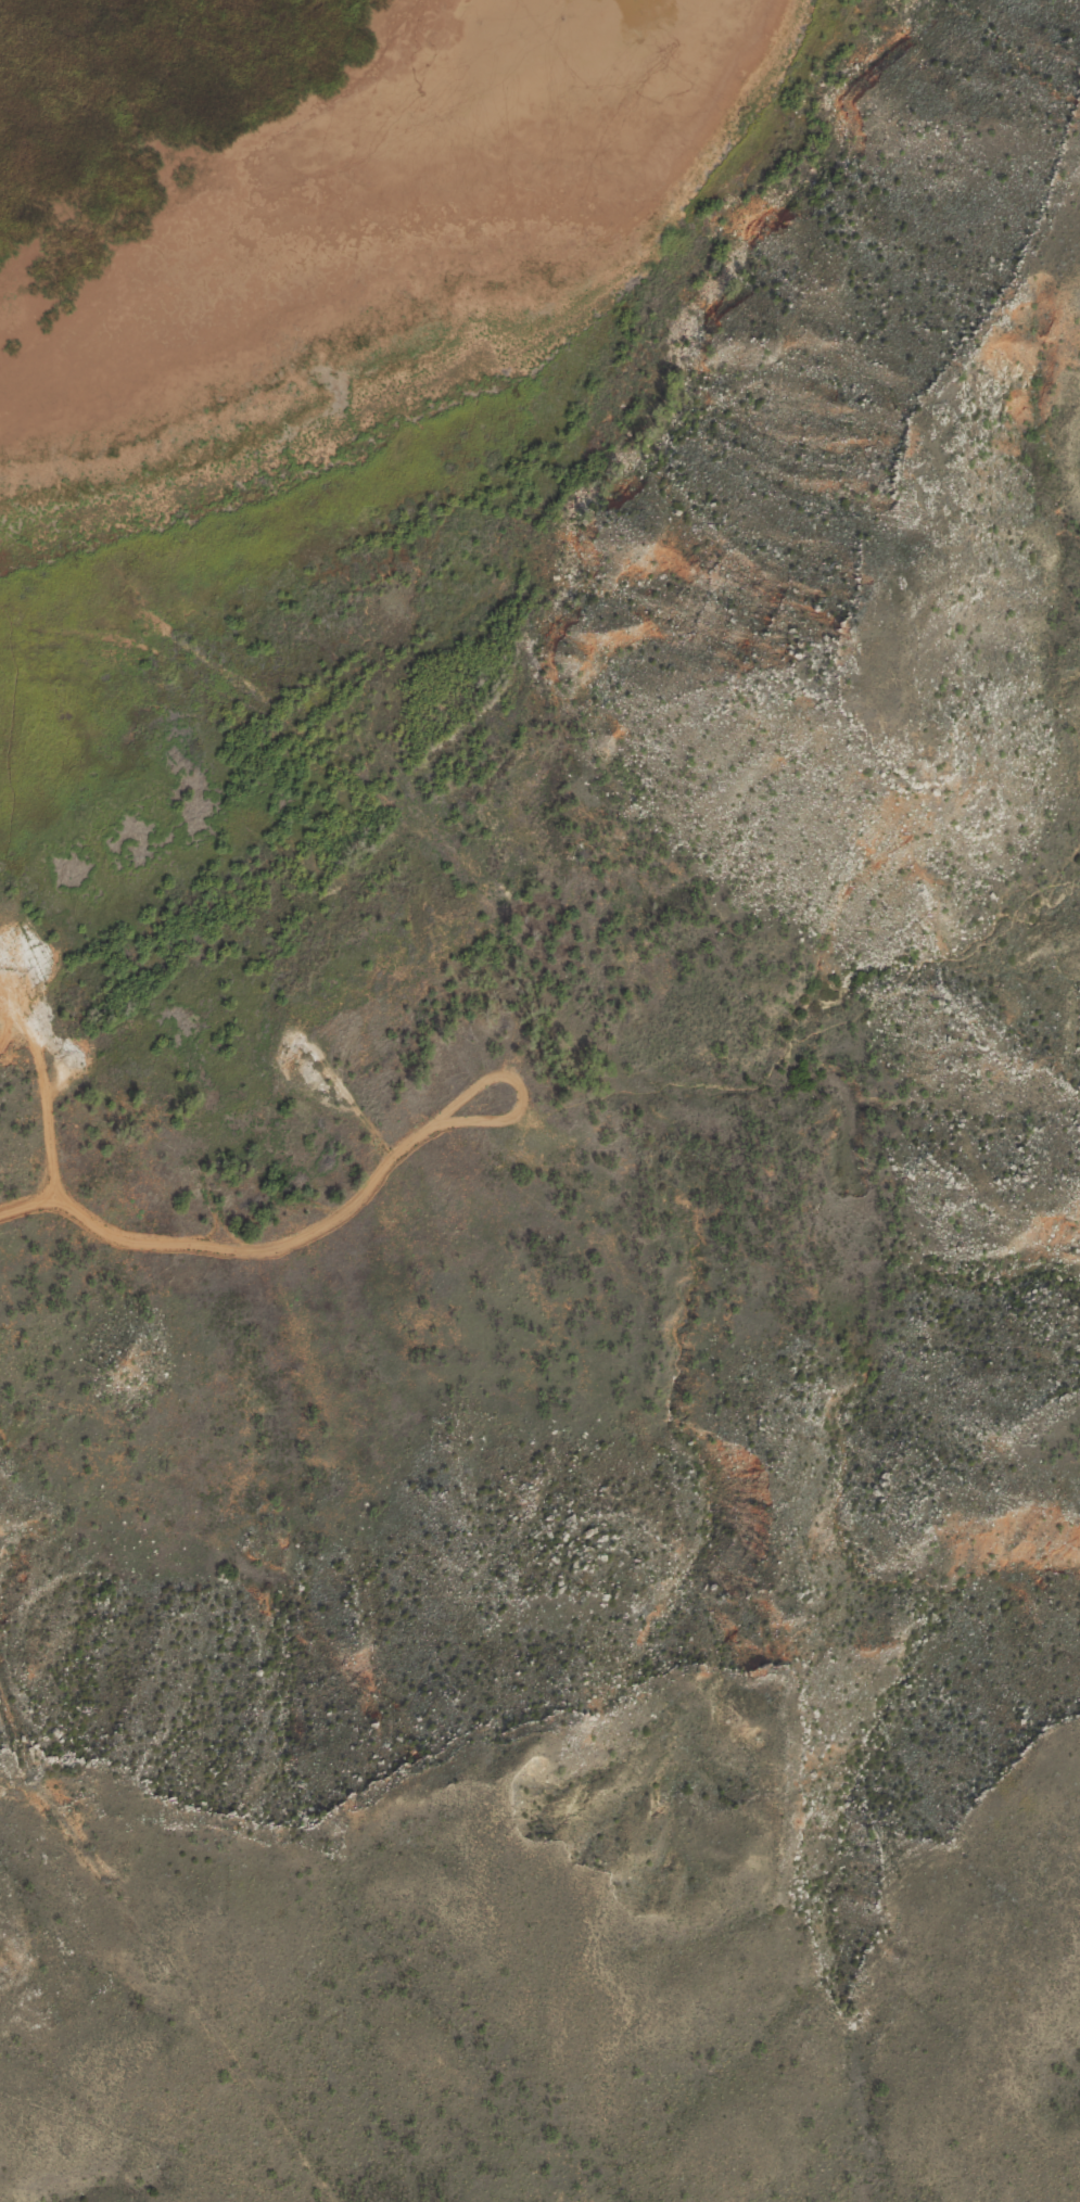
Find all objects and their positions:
quarry: (45, 1010)
quarry: (319, 1057)
road: (52, 1102)
road: (49, 1184)
road: (202, 1246)
road: (256, 2080)

